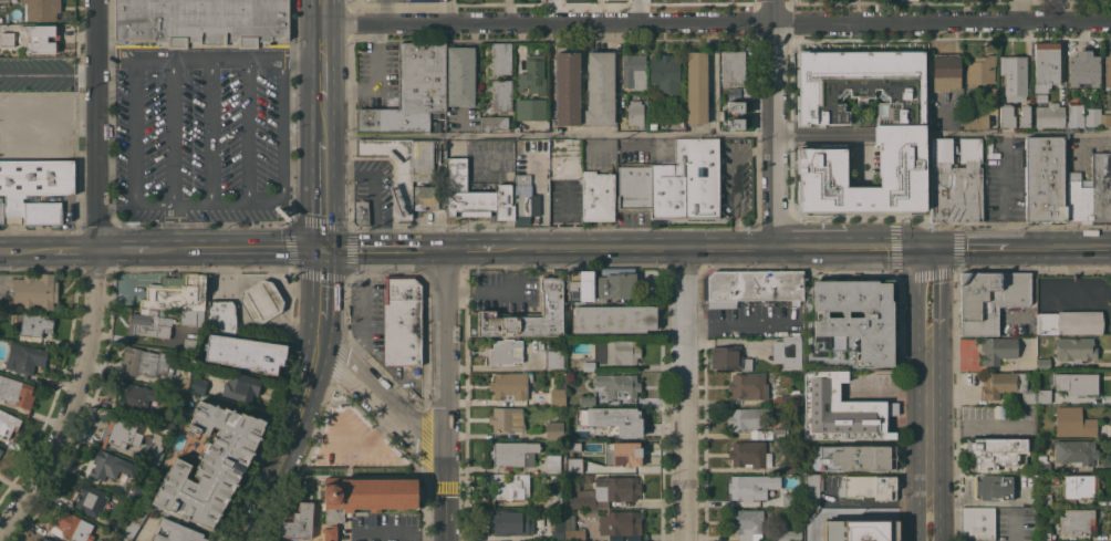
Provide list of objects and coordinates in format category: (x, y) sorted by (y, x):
parking lot: (388, 0)
building: (426, 0)
building: (907, 0)
building: (42, 9)
road: (385, 11)
building: (201, 22)
road: (715, 22)
road: (321, 29)
building: (42, 38)
building: (8, 39)
road: (375, 55)
building: (499, 58)
road: (207, 59)
road: (133, 63)
road: (170, 63)
road: (208, 63)
road: (246, 63)
road: (280, 64)
building: (1045, 65)
building: (733, 66)
building: (1082, 69)
building: (979, 70)
building: (633, 72)
building: (945, 72)
building: (1107, 72)
building: (664, 73)
parking lot: (378, 75)
building: (458, 75)
building: (530, 77)
building: (1013, 77)
road: (321, 81)
road: (349, 86)
building: (696, 86)
building: (600, 87)
building: (568, 89)
building: (411, 91)
building: (733, 92)
building: (501, 95)
building: (1039, 97)
building: (990, 100)
building: (733, 105)
building: (528, 108)
building: (31, 110)
building: (634, 113)
building: (1014, 115)
building: (1048, 115)
building: (1074, 116)
building: (1092, 117)
building: (1110, 117)
building: (975, 121)
building: (1104, 121)
road: (322, 122)
building: (491, 123)
road: (776, 123)
building: (731, 124)
road: (280, 131)
road: (1022, 131)
road: (170, 132)
road: (208, 132)
parking lot: (200, 134)
road: (549, 134)
road: (785, 134)
road: (133, 135)
road: (246, 135)
road: (831, 136)
building: (897, 136)
building: (33, 145)
building: (558, 150)
building: (519, 157)
building: (422, 159)
building: (521, 164)
building: (521, 170)
building: (37, 177)
building: (520, 178)
road: (734, 178)
building: (955, 179)
building: (1043, 180)
building: (687, 181)
parking lot: (376, 186)
road: (375, 187)
building: (634, 188)
building: (402, 190)
building: (1090, 190)
road: (321, 194)
building: (473, 194)
building: (598, 196)
building: (425, 197)
building: (13, 199)
road: (172, 199)
road: (209, 200)
building: (526, 202)
road: (147, 204)
road: (166, 204)
road: (176, 204)
road: (207, 204)
road: (240, 204)
road: (267, 204)
building: (361, 211)
building: (42, 212)
building: (1, 214)
road: (172, 226)
road: (927, 247)
road: (712, 248)
traffic signals: (931, 248)
road: (1024, 248)
road: (123, 249)
road: (168, 249)
road: (253, 249)
traffic signals: (321, 249)
road: (383, 249)
road: (475, 249)
road: (70, 250)
road: (22, 251)
road: (276, 263)
building: (548, 272)
road: (93, 275)
building: (615, 282)
road: (280, 283)
building: (579, 285)
building: (752, 285)
building: (33, 290)
road: (302, 290)
building: (174, 291)
road: (920, 292)
road: (938, 292)
building: (989, 298)
road: (319, 299)
building: (261, 301)
parking lot: (366, 311)
building: (525, 315)
building: (220, 316)
building: (190, 318)
building: (614, 318)
building: (401, 321)
building: (1068, 322)
building: (34, 323)
road: (738, 323)
building: (148, 324)
building: (848, 324)
building: (190, 343)
building: (1073, 348)
building: (997, 350)
road: (445, 351)
building: (502, 352)
building: (622, 352)
building: (787, 352)
building: (245, 353)
building: (24, 357)
building: (728, 357)
building: (553, 358)
building: (145, 362)
building: (1042, 363)
building: (588, 366)
building: (181, 381)
building: (1076, 383)
building: (198, 385)
building: (510, 385)
building: (617, 385)
building: (748, 385)
building: (1006, 385)
building: (240, 386)
road: (887, 389)
building: (15, 393)
road: (684, 395)
building: (557, 396)
building: (1042, 396)
building: (135, 397)
building: (788, 398)
road: (380, 399)
building: (580, 399)
building: (839, 409)
road: (928, 417)
building: (613, 418)
building: (506, 419)
building: (750, 420)
building: (1072, 422)
building: (8, 423)
building: (553, 428)
building: (778, 433)
building: (588, 435)
building: (120, 436)
road: (283, 448)
building: (1, 450)
building: (568, 450)
building: (150, 451)
building: (1076, 451)
building: (614, 452)
building: (512, 454)
building: (749, 455)
building: (996, 455)
building: (853, 458)
building: (552, 464)
building: (1042, 464)
building: (110, 465)
building: (210, 465)
building: (572, 466)
building: (789, 467)
building: (510, 485)
building: (1079, 486)
building: (749, 487)
building: (868, 487)
building: (994, 487)
building: (811, 489)
building: (133, 491)
building: (603, 491)
building: (366, 495)
road: (444, 496)
building: (551, 497)
building: (90, 499)
building: (1043, 499)
building: (790, 500)
building: (586, 512)
building: (809, 512)
road: (918, 518)
road: (939, 518)
building: (1078, 521)
building: (299, 522)
building: (509, 522)
building: (623, 522)
building: (132, 523)
building: (746, 523)
building: (977, 523)
building: (71, 527)
road: (1015, 528)
building: (558, 530)
building: (572, 530)
building: (861, 530)
building: (176, 532)
building: (330, 532)
building: (1043, 532)
building: (789, 535)
building: (812, 538)
building: (43, 539)
building: (100, 540)

